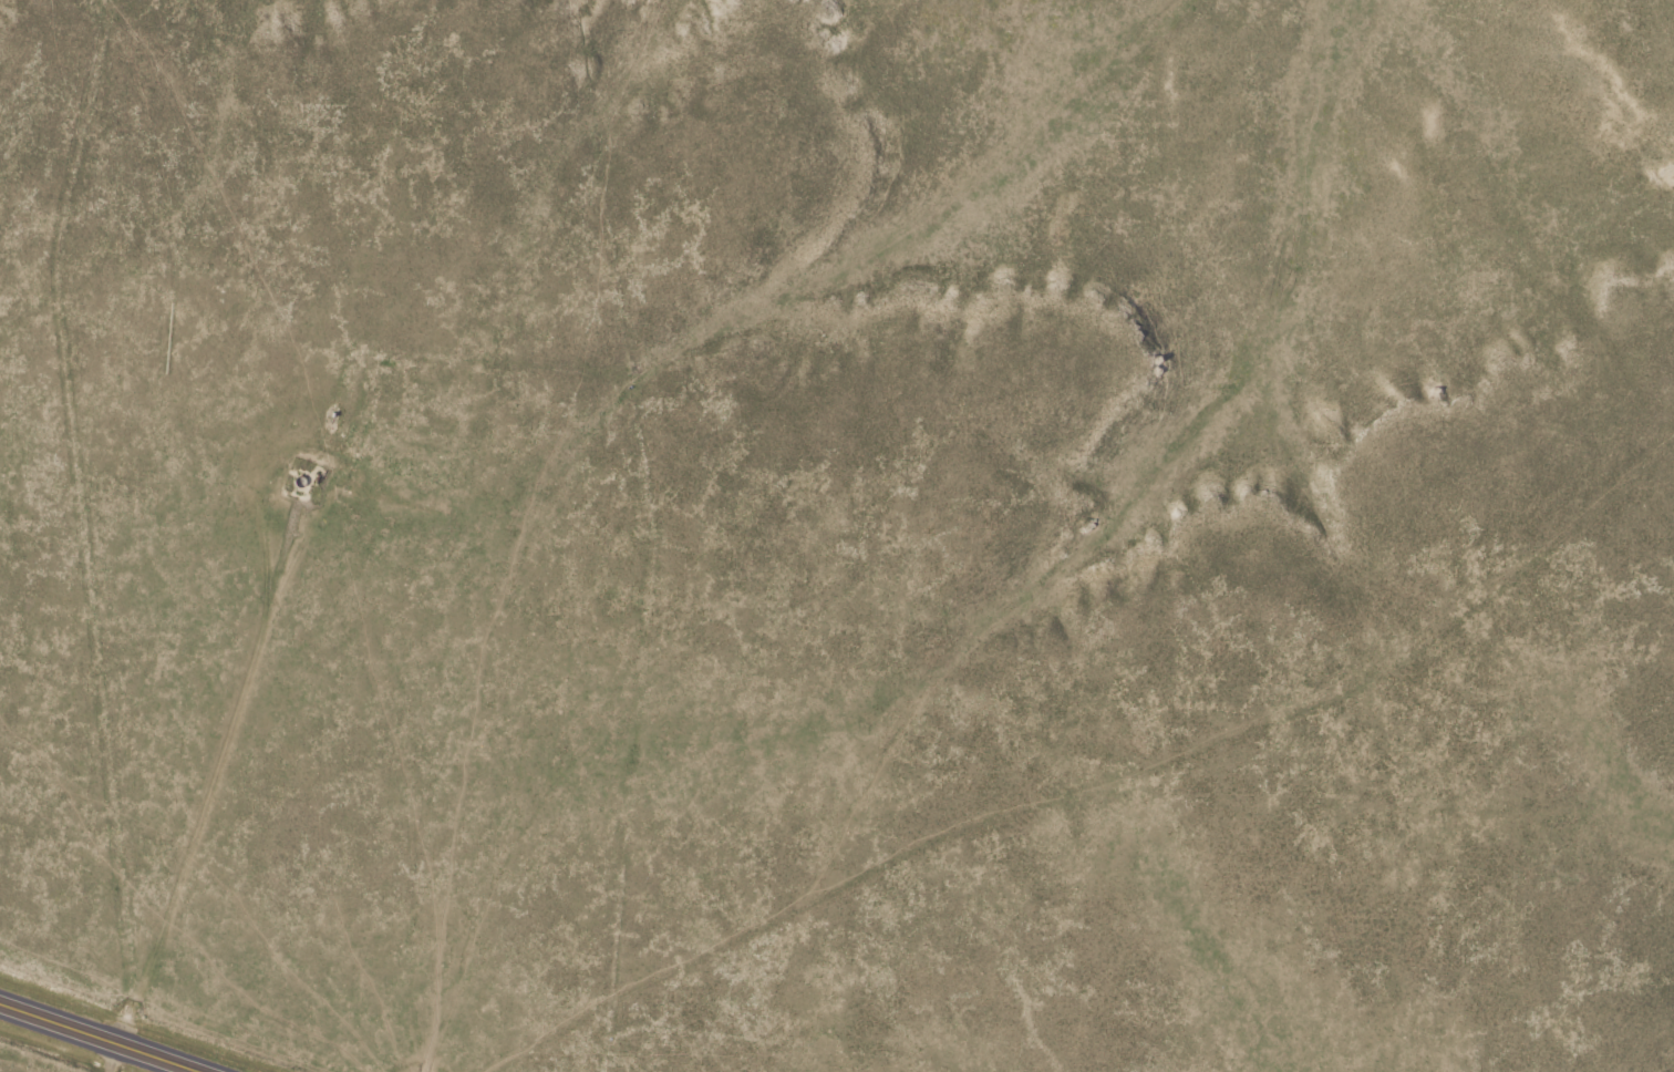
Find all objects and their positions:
road: (97, 1038)

